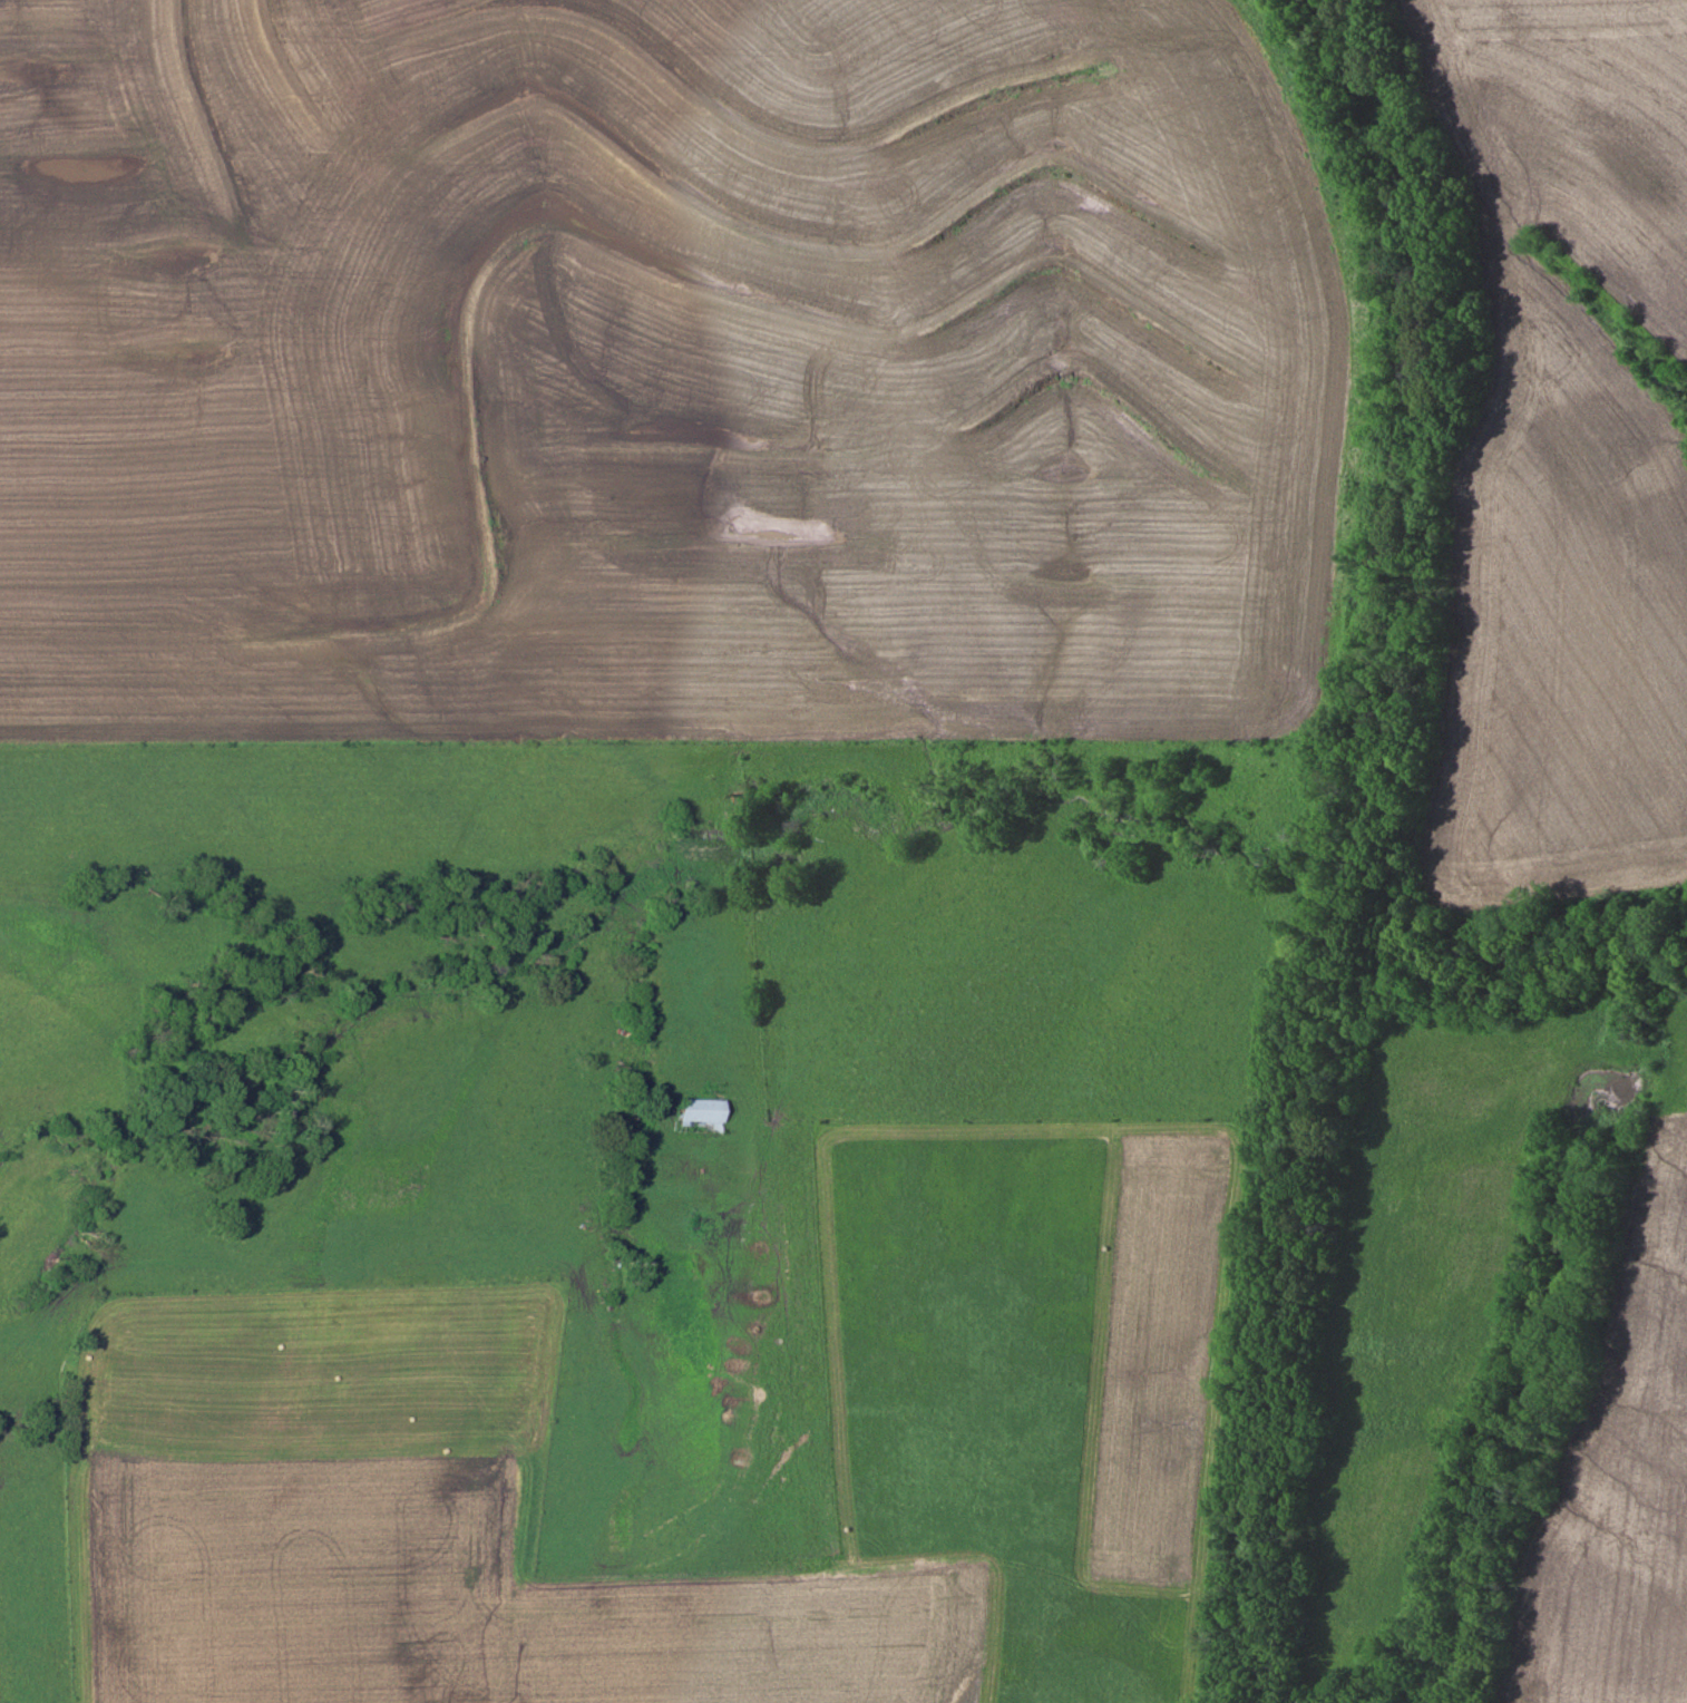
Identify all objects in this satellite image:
crop: (659, 371)
crop: (1562, 463)
building: (698, 1116)
road: (576, 1269)
crop: (1620, 1482)

